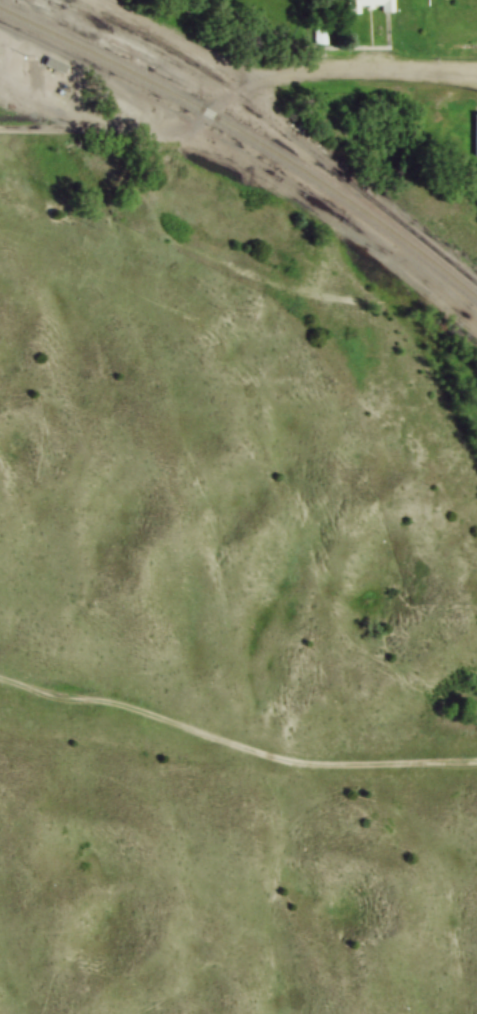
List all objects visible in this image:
building: (374, 5)
building: (59, 66)
road: (237, 93)
railway: (251, 135)
building: (475, 136)

